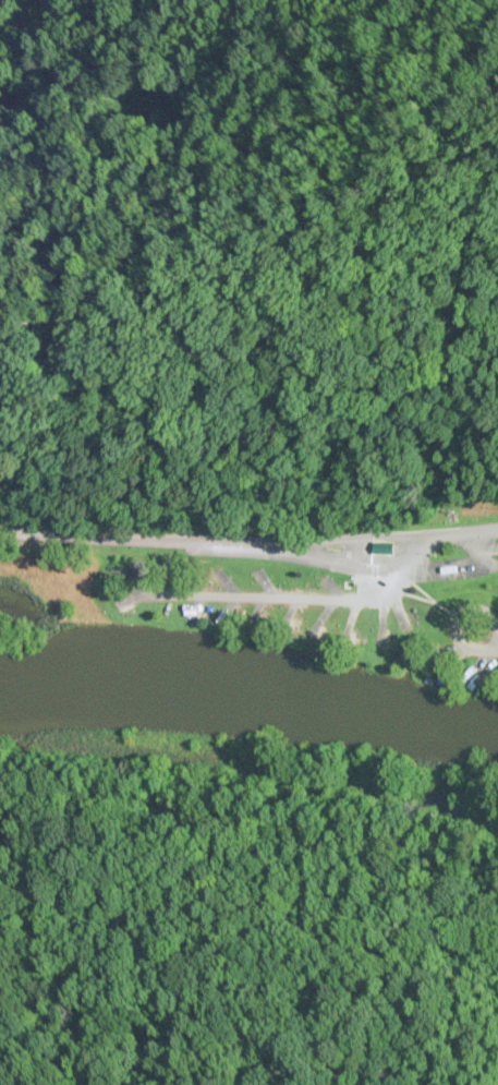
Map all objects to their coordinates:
road: (17, 21)
road: (463, 534)
road: (120, 538)
road: (333, 538)
building: (381, 547)
road: (335, 548)
building: (450, 568)
road: (291, 596)
road: (486, 631)
river: (250, 687)

